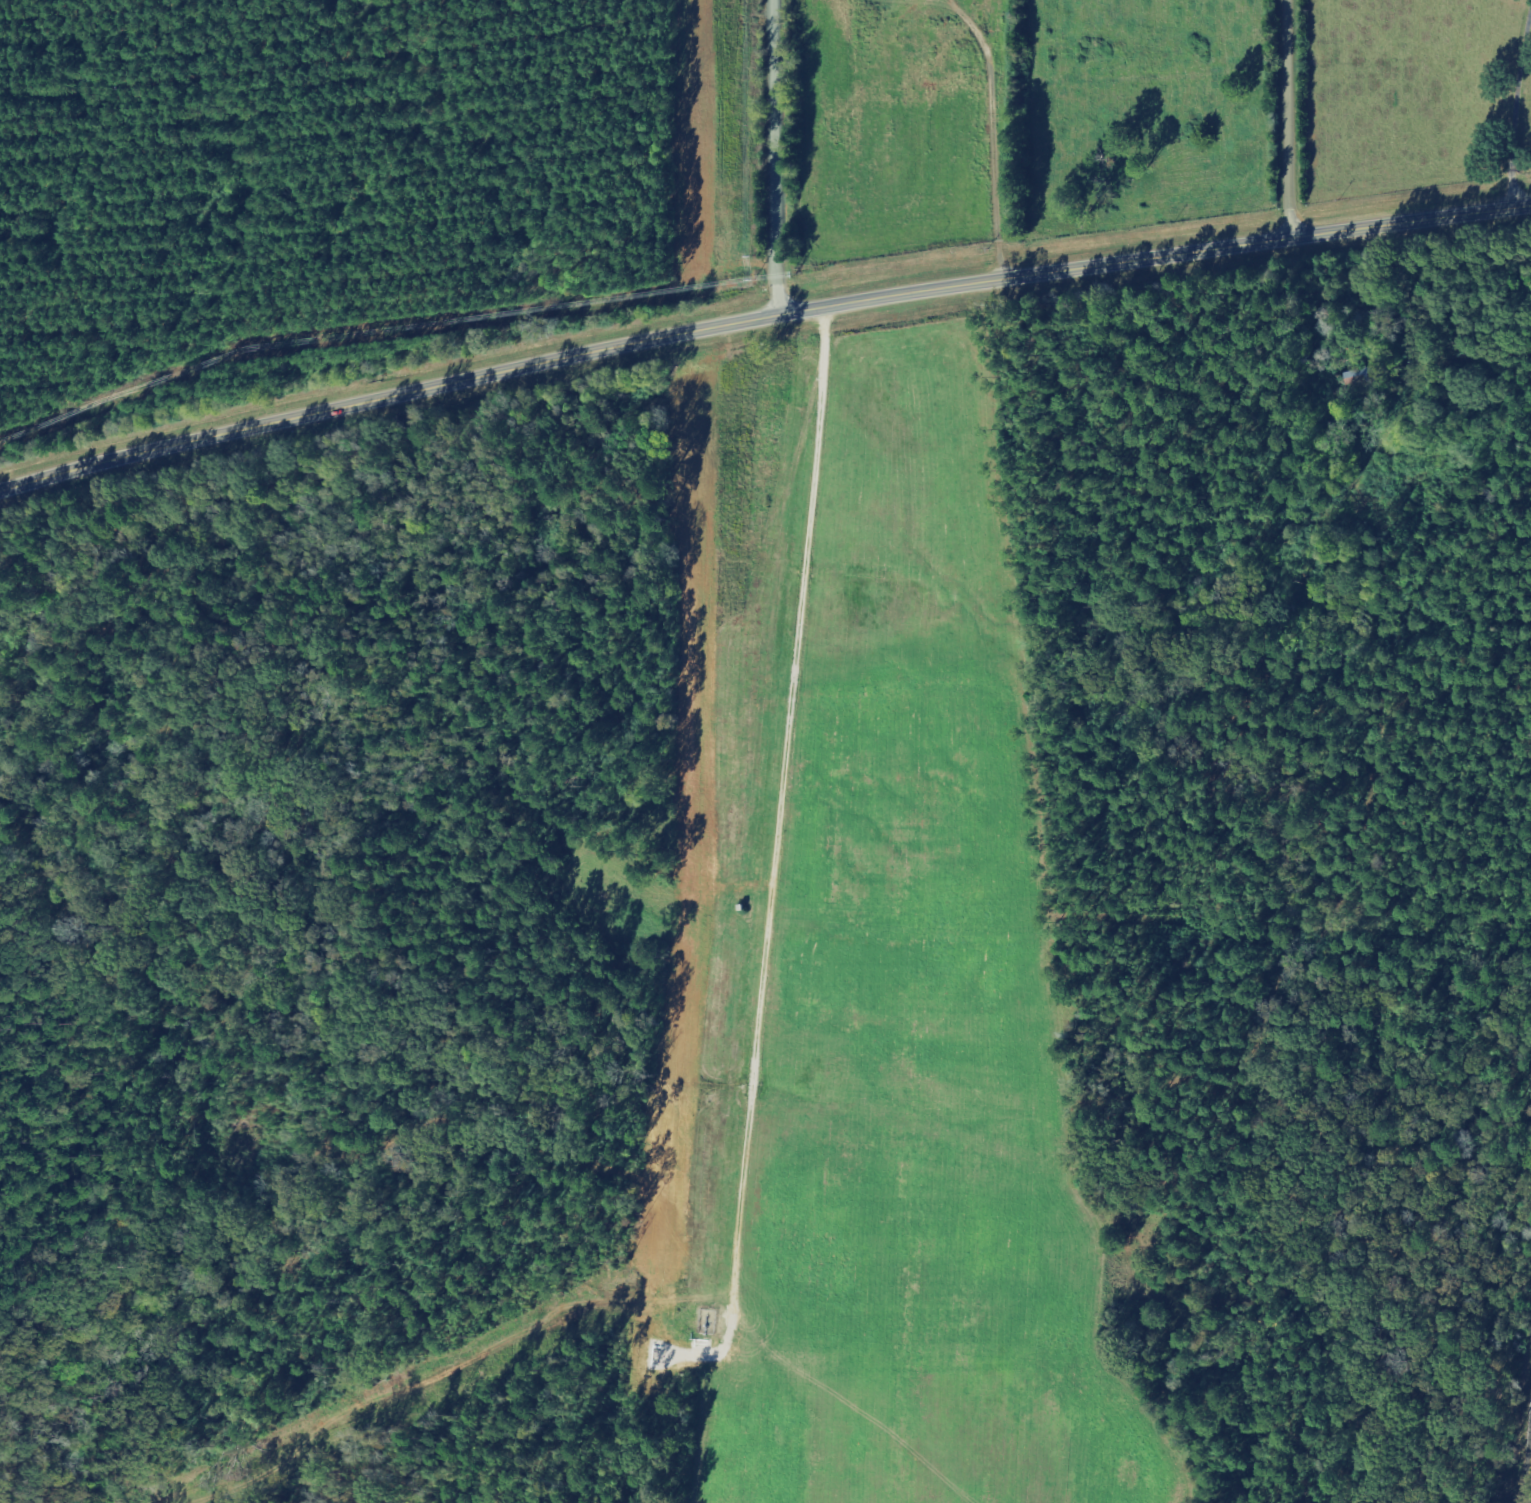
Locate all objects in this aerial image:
road: (1294, 117)
road: (779, 161)
road: (761, 326)
road: (1524, 1466)

